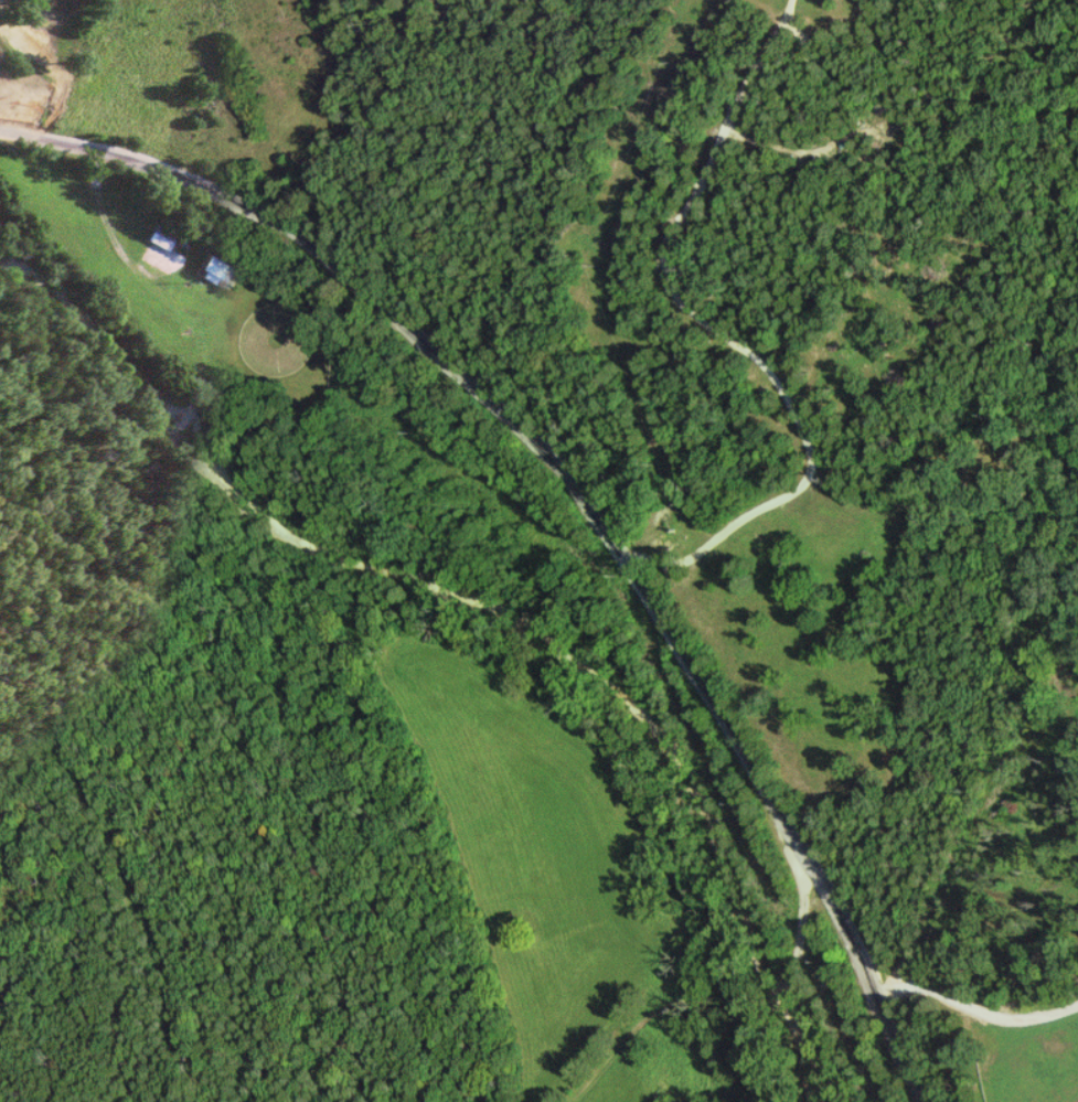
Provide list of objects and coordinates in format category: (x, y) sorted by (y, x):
road: (1, 6)
road: (57, 142)
building: (162, 237)
road: (126, 254)
building: (215, 269)
road: (730, 333)
road: (618, 537)
road: (711, 992)
road: (978, 1009)

